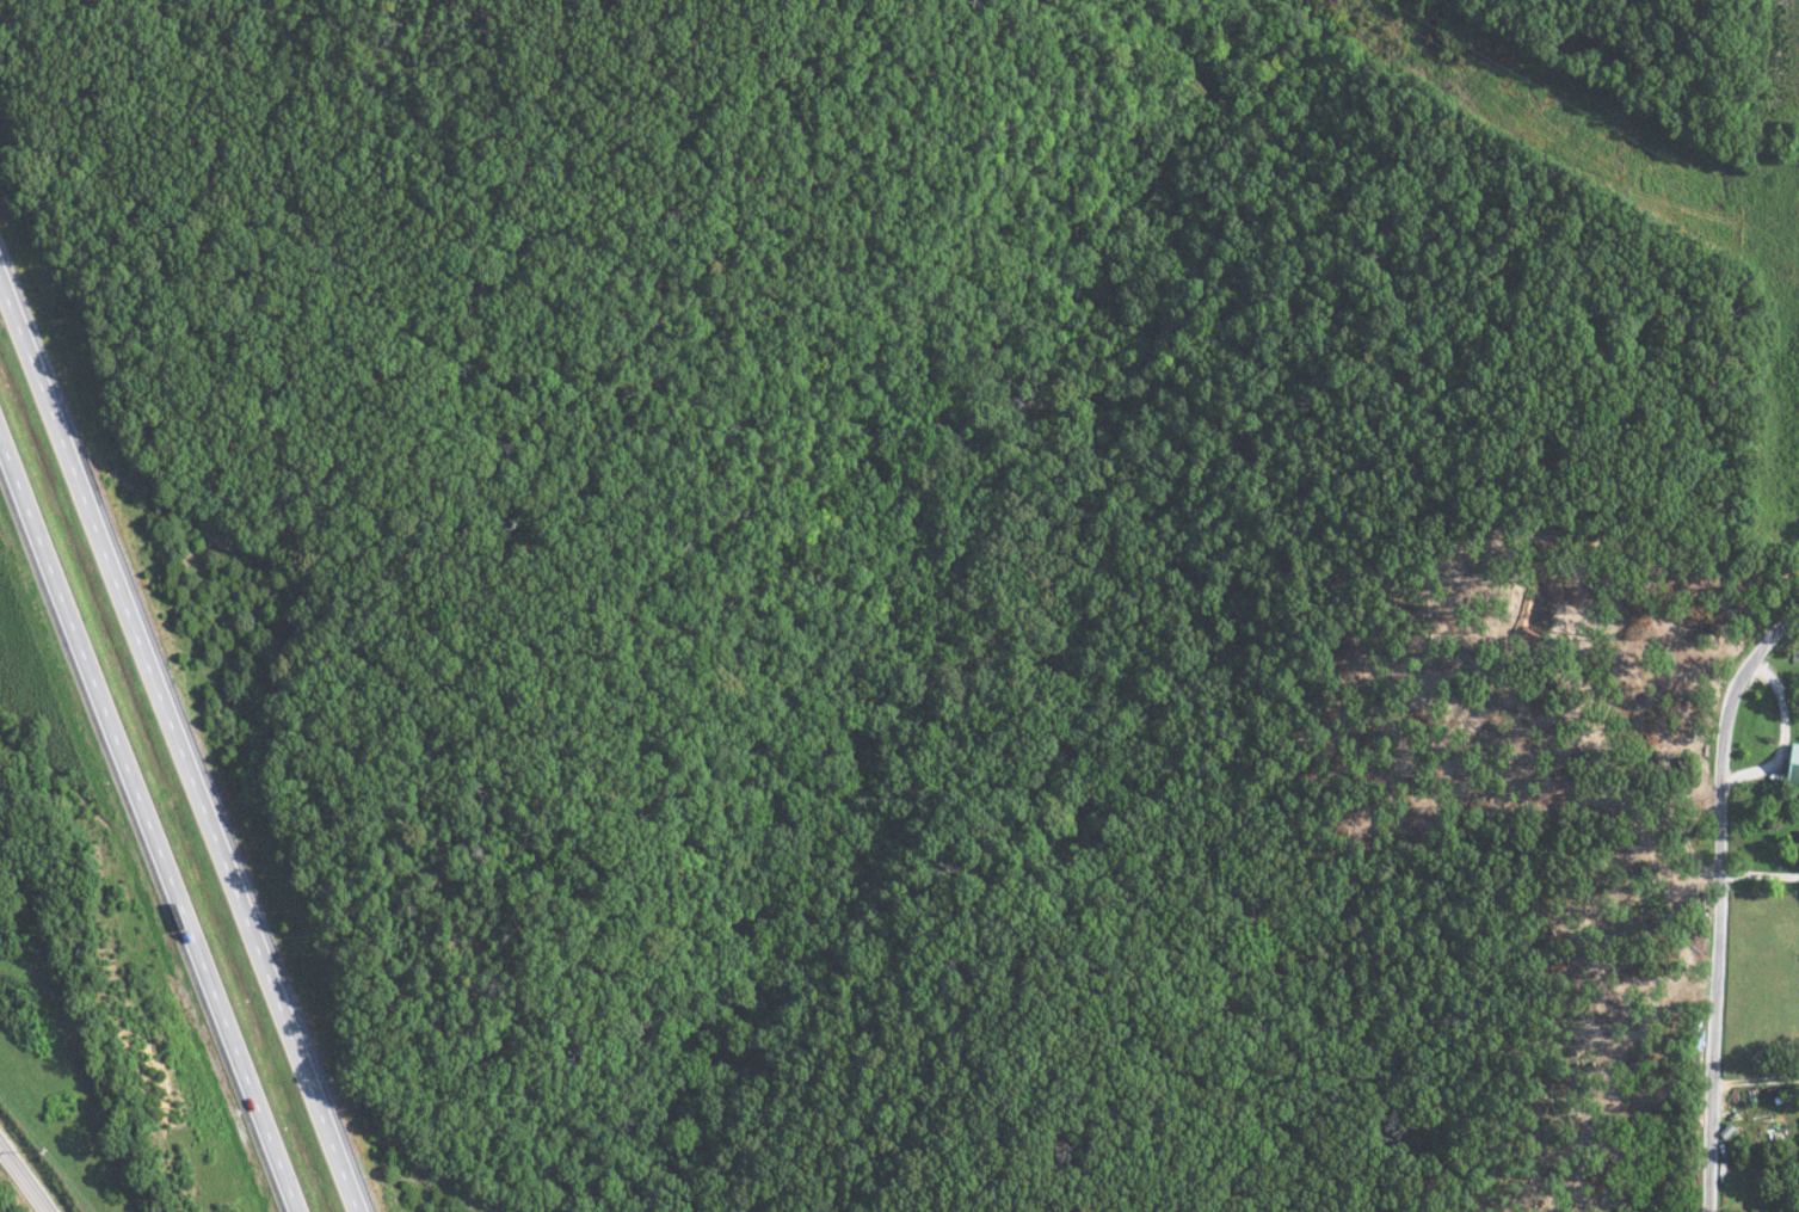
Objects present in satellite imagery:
road: (177, 753)
building: (1788, 764)
road: (148, 828)
road: (1715, 896)
road: (1754, 1078)
road: (23, 1180)

